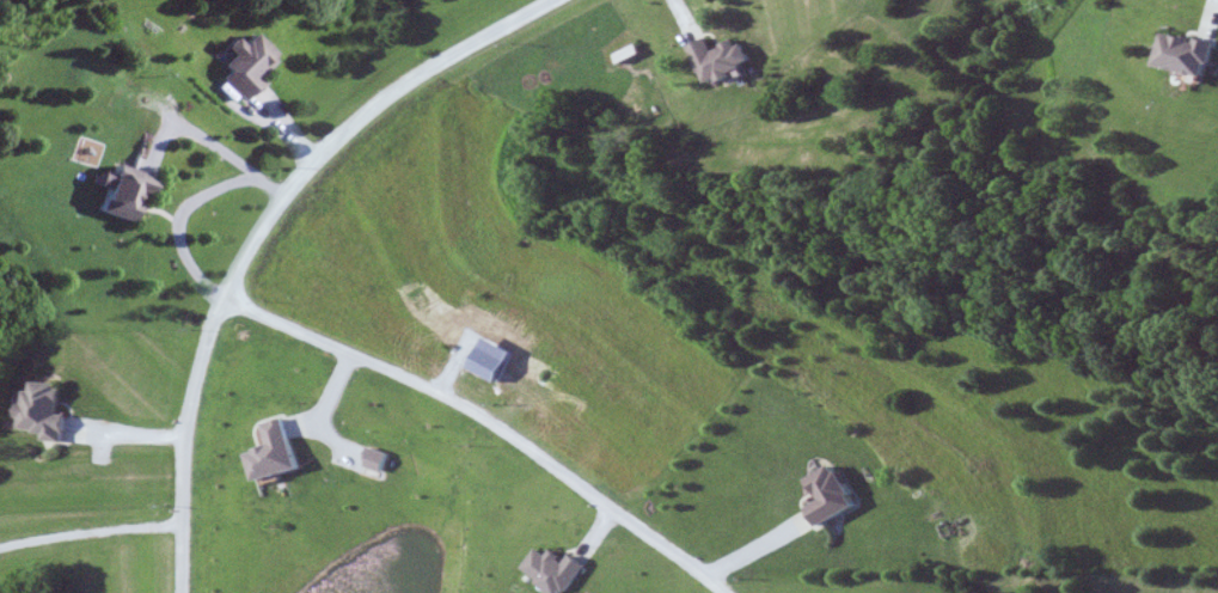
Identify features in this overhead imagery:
building: (1191, 54)
building: (723, 59)
building: (247, 66)
building: (127, 192)
road: (180, 201)
road: (261, 230)
building: (61, 411)
road: (489, 421)
building: (834, 496)
road: (91, 532)
building: (557, 571)

